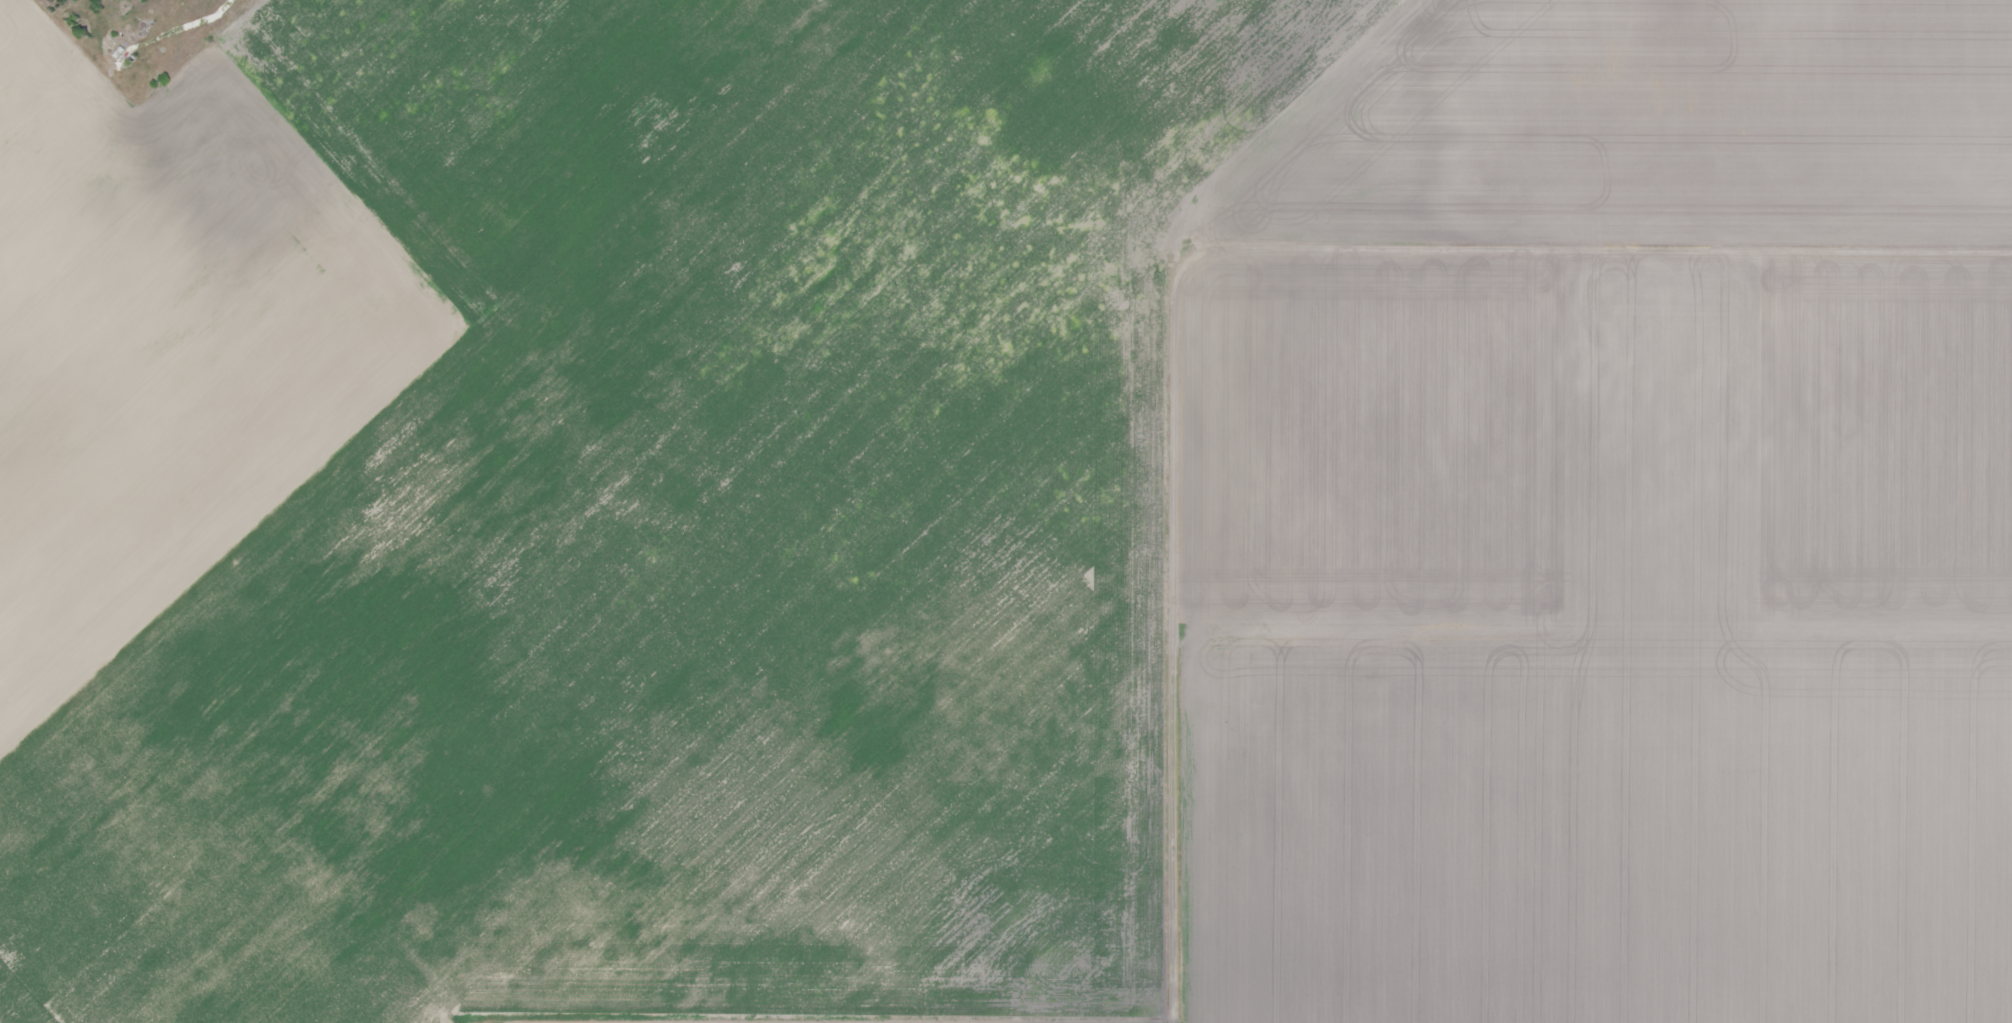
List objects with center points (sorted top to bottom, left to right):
building: (119, 55)
road: (1220, 249)

